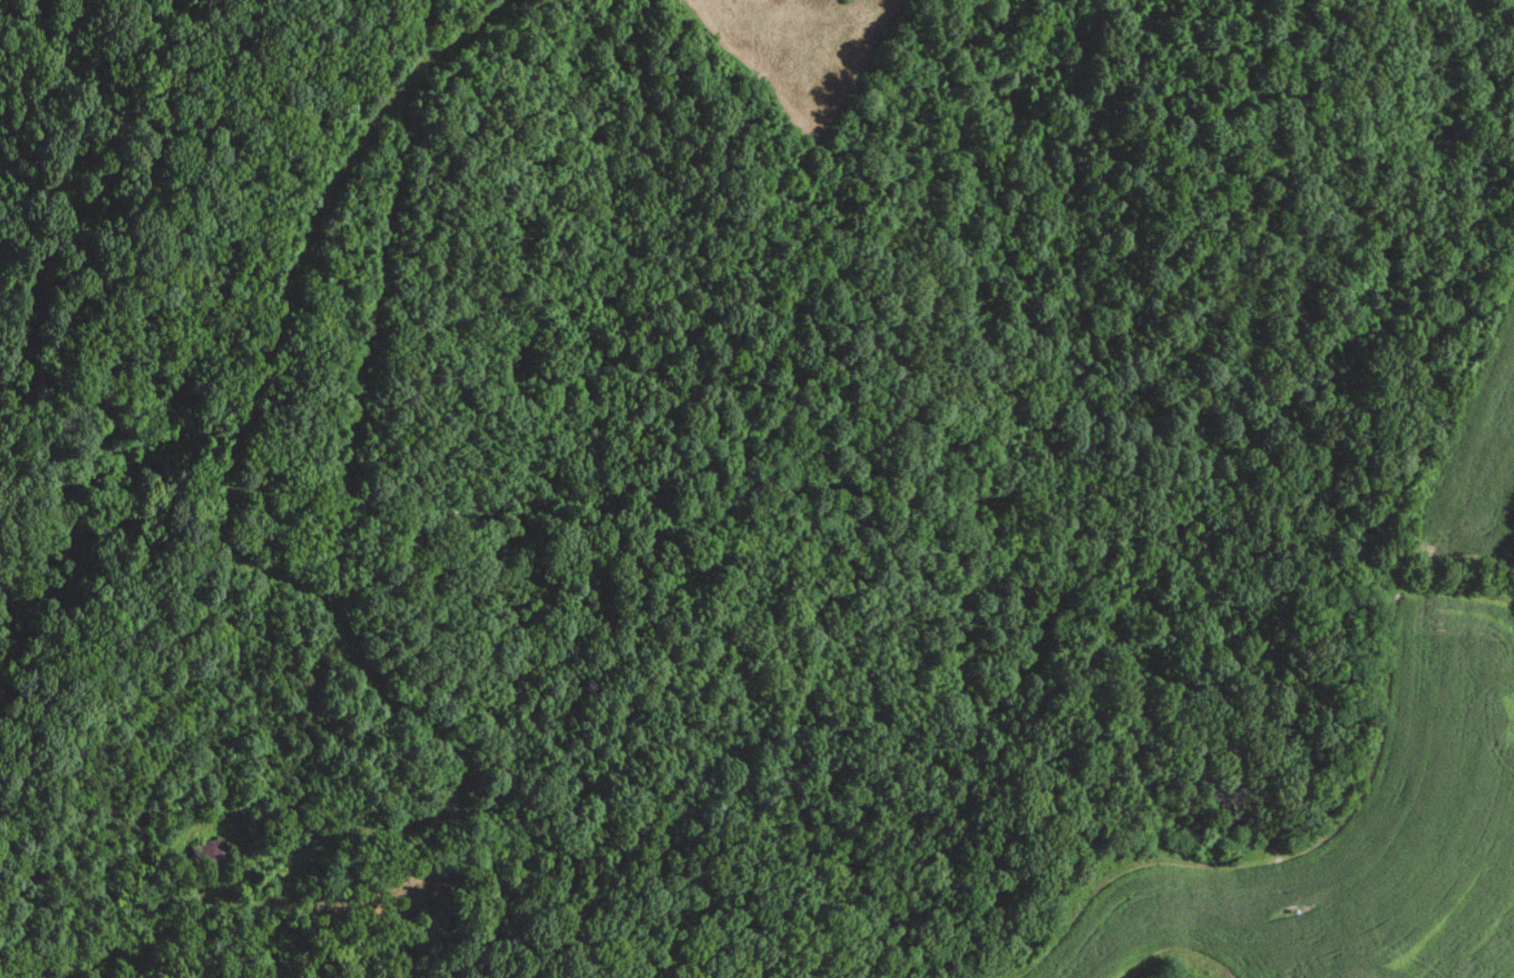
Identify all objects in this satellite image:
road: (1396, 685)
building: (212, 857)

